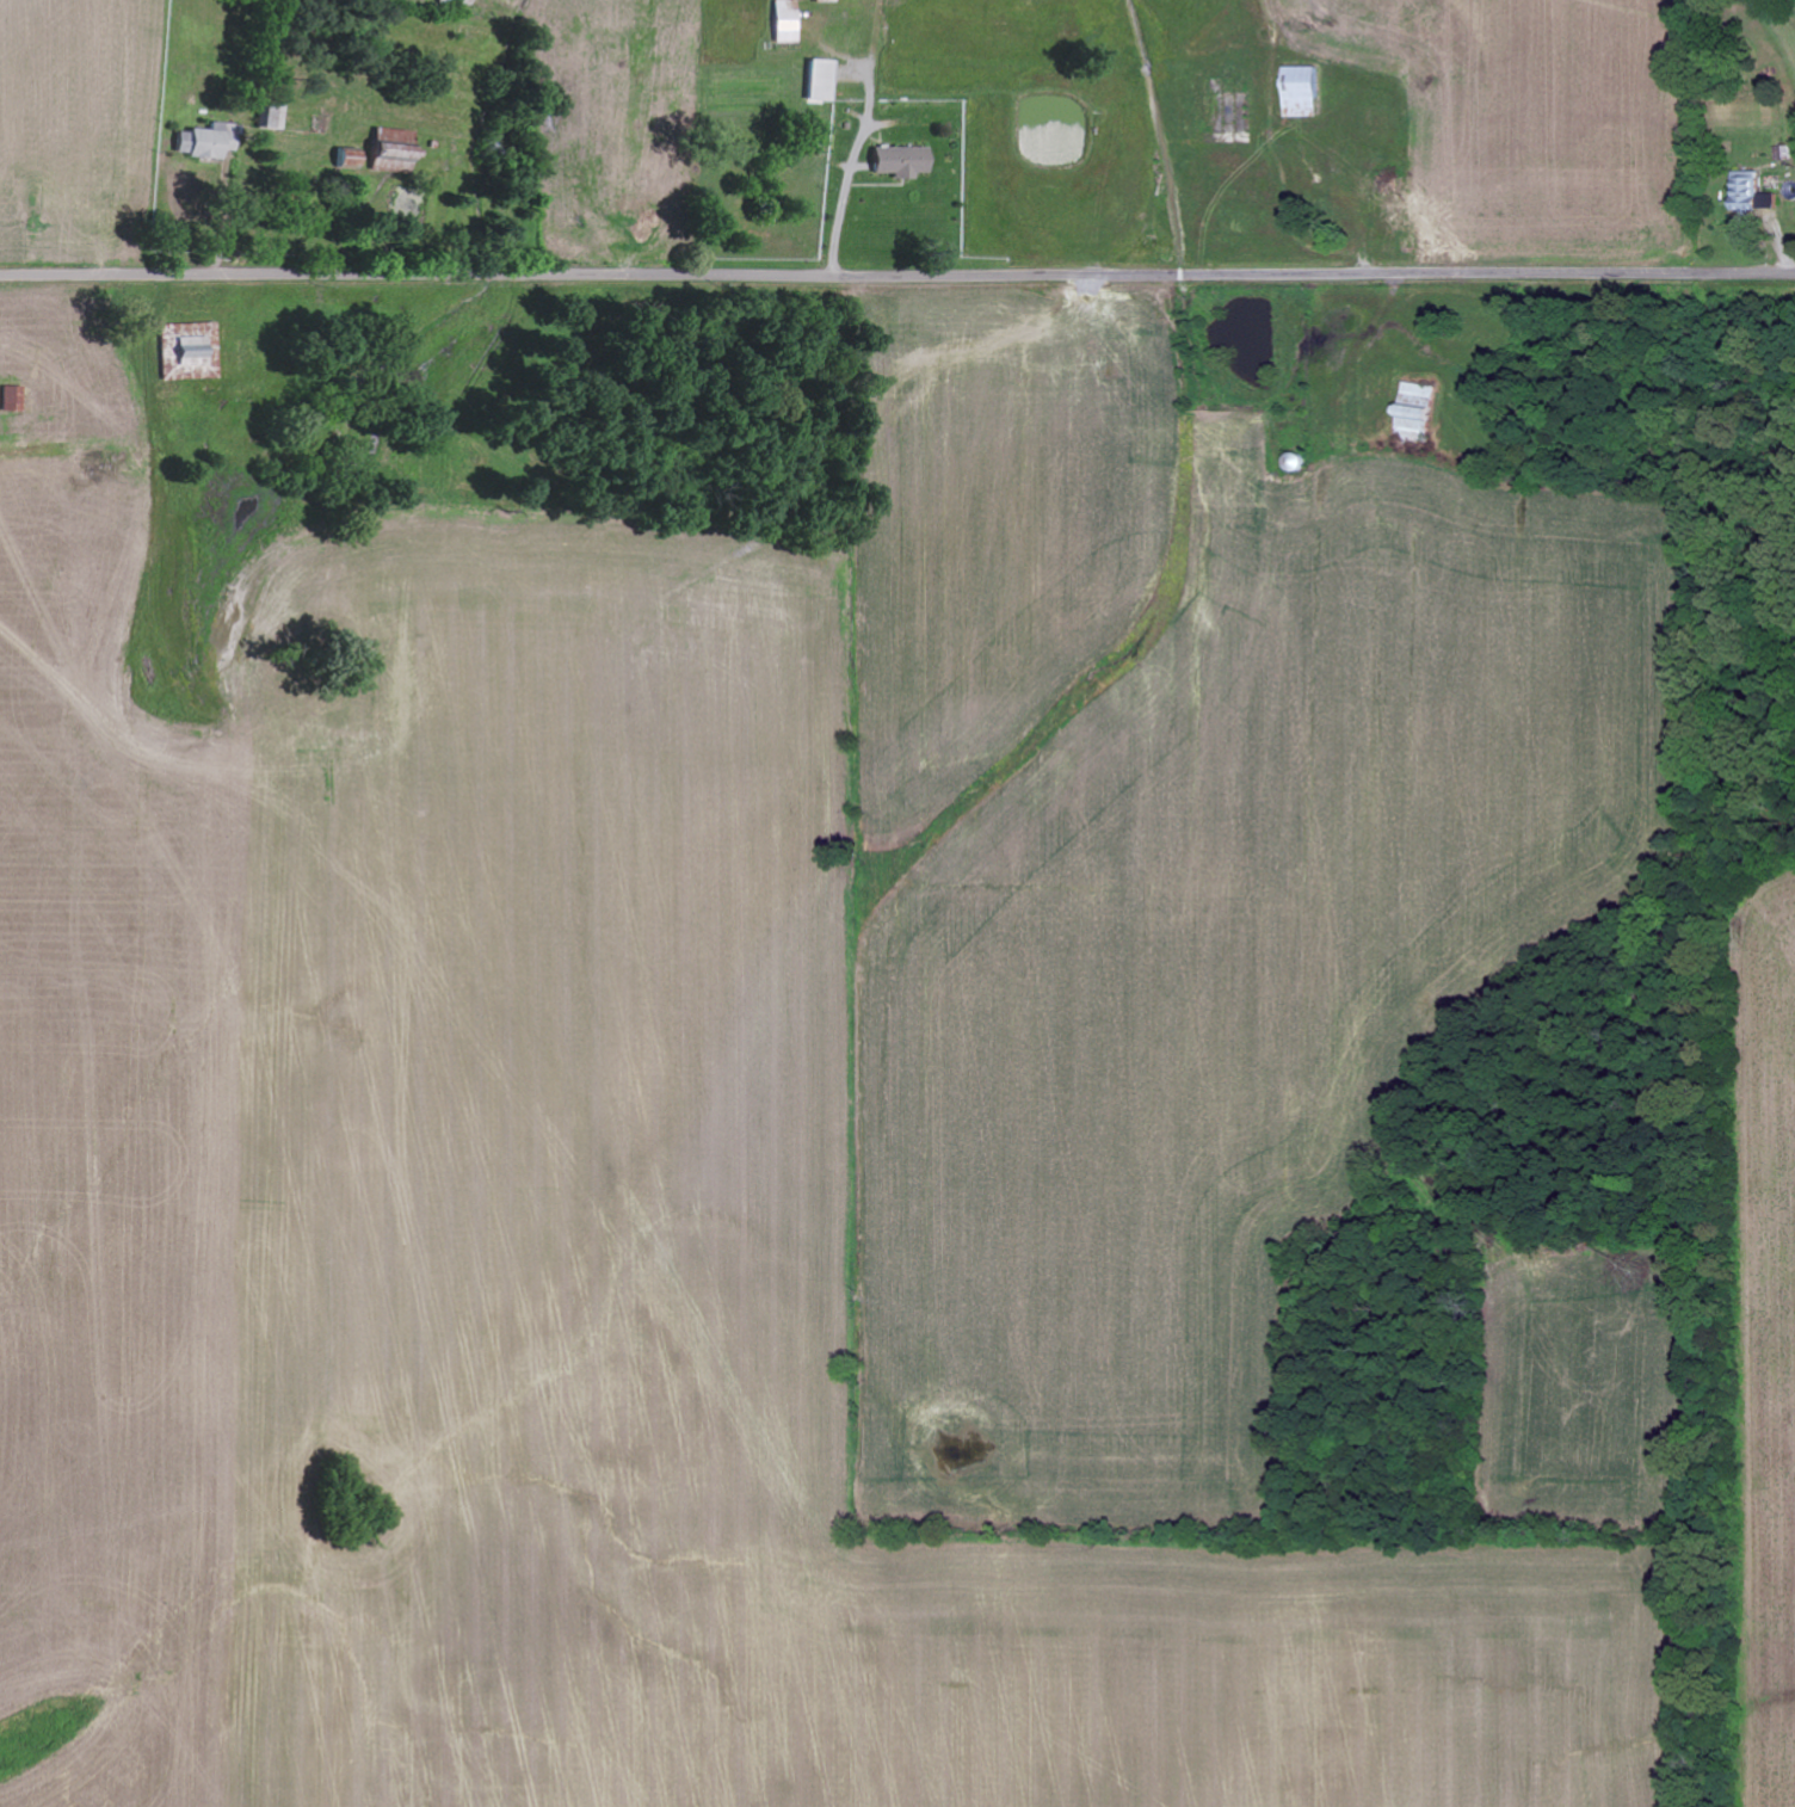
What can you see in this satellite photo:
building: (783, 29)
building: (815, 81)
building: (1300, 91)
building: (202, 142)
building: (896, 162)
building: (1747, 190)
road: (1747, 266)
road: (850, 272)

